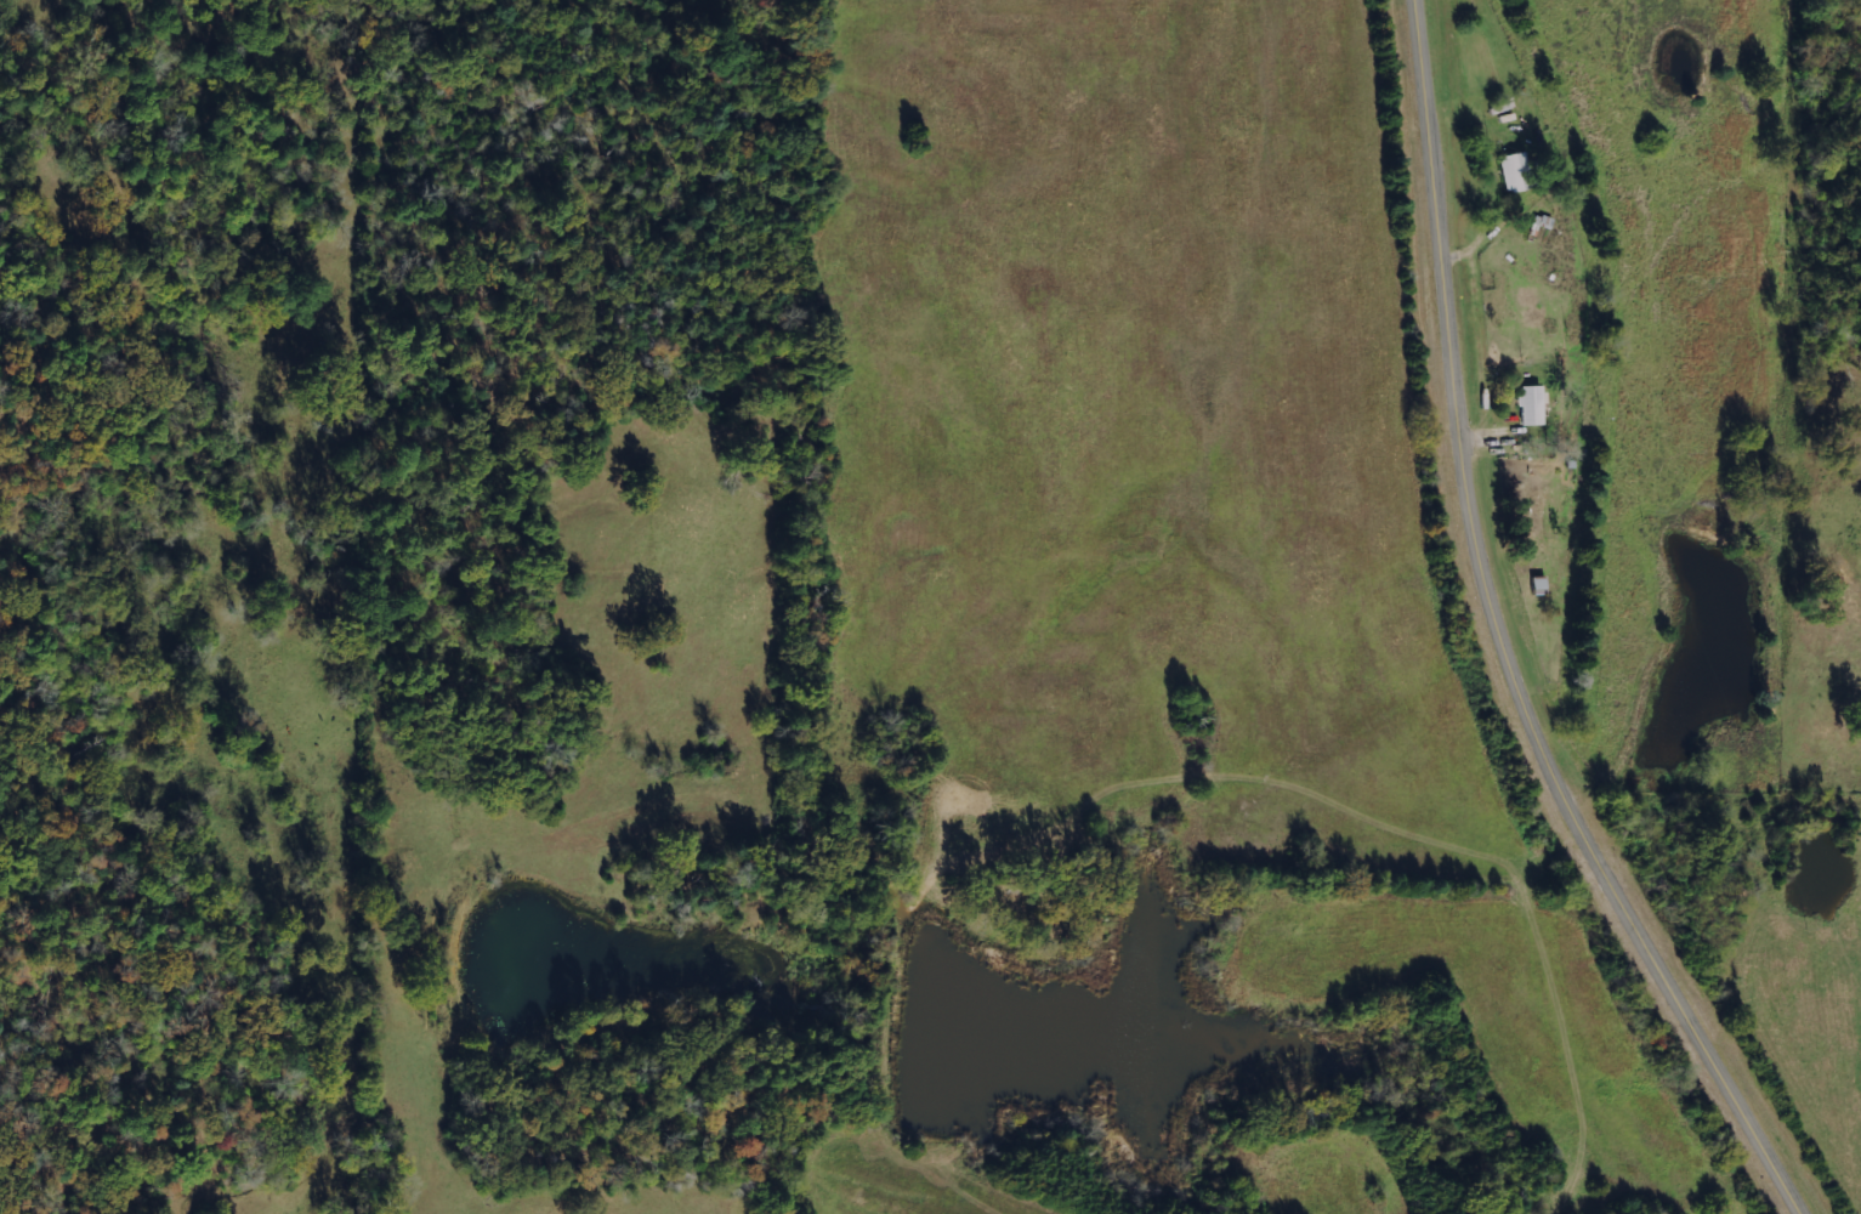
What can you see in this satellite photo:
building: (1515, 172)
building: (1530, 405)
road: (1493, 641)
park: (72, 1186)

